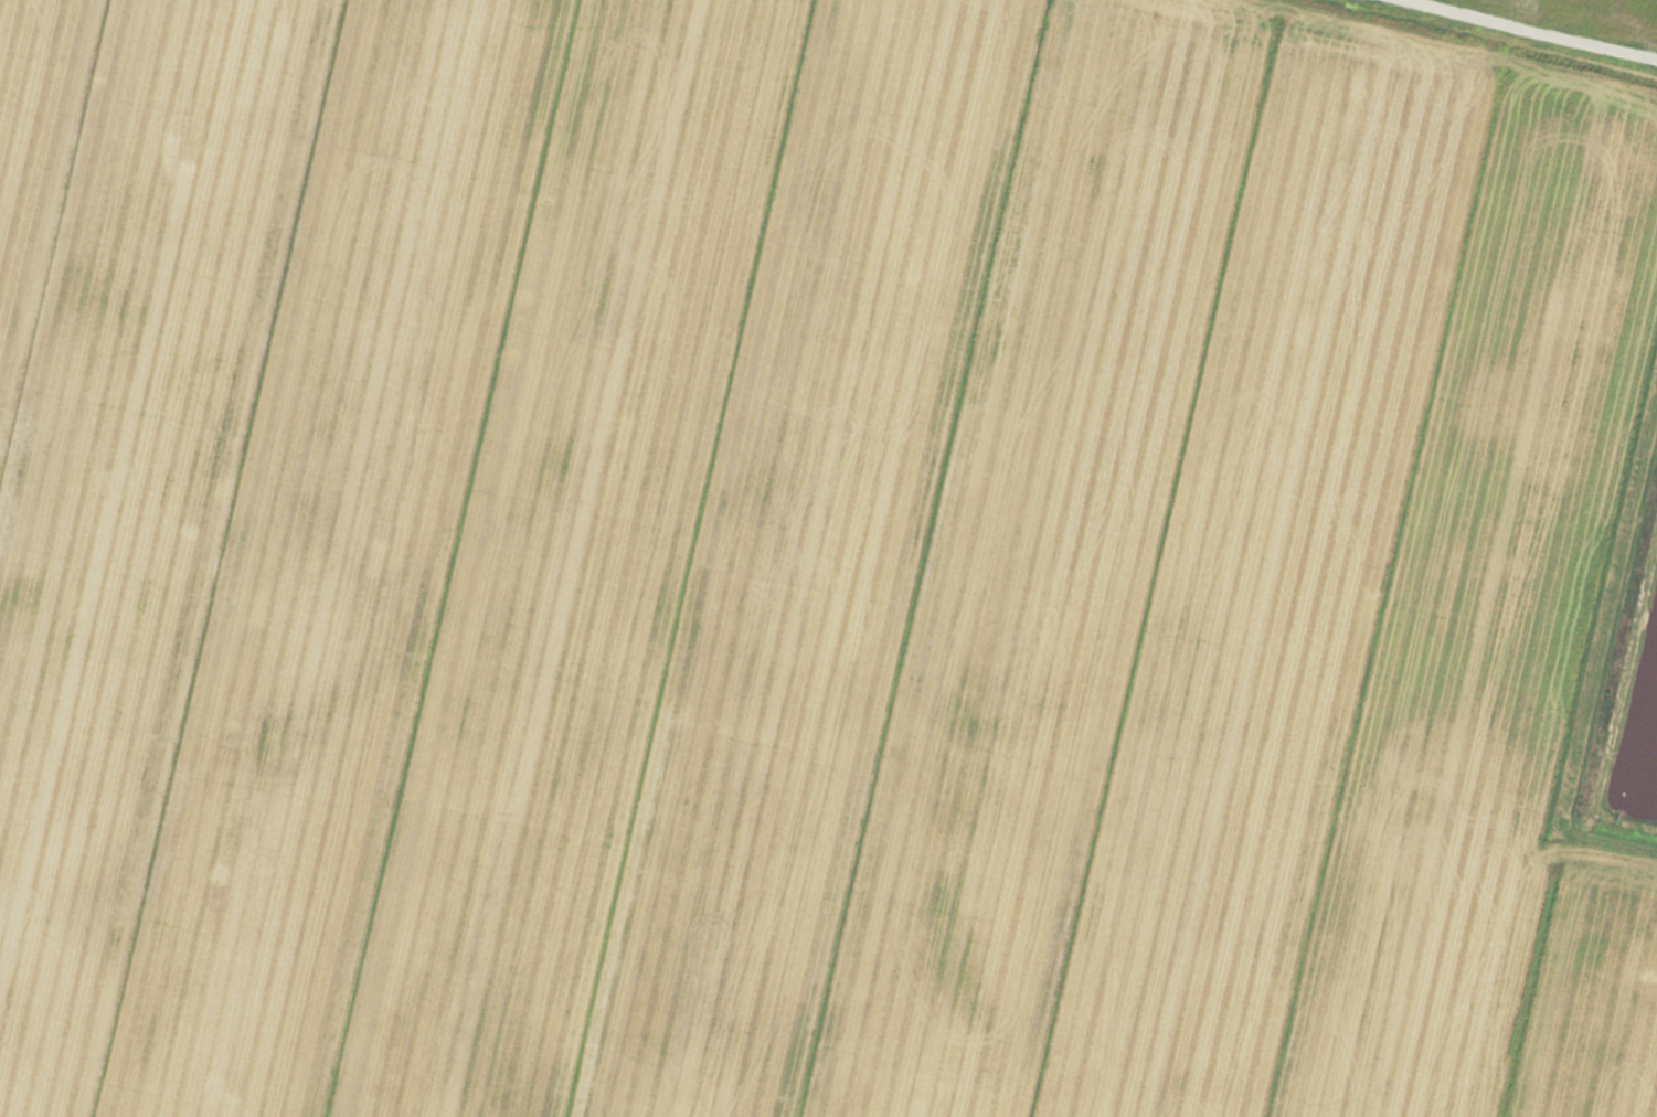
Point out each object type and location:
road: (1530, 29)

